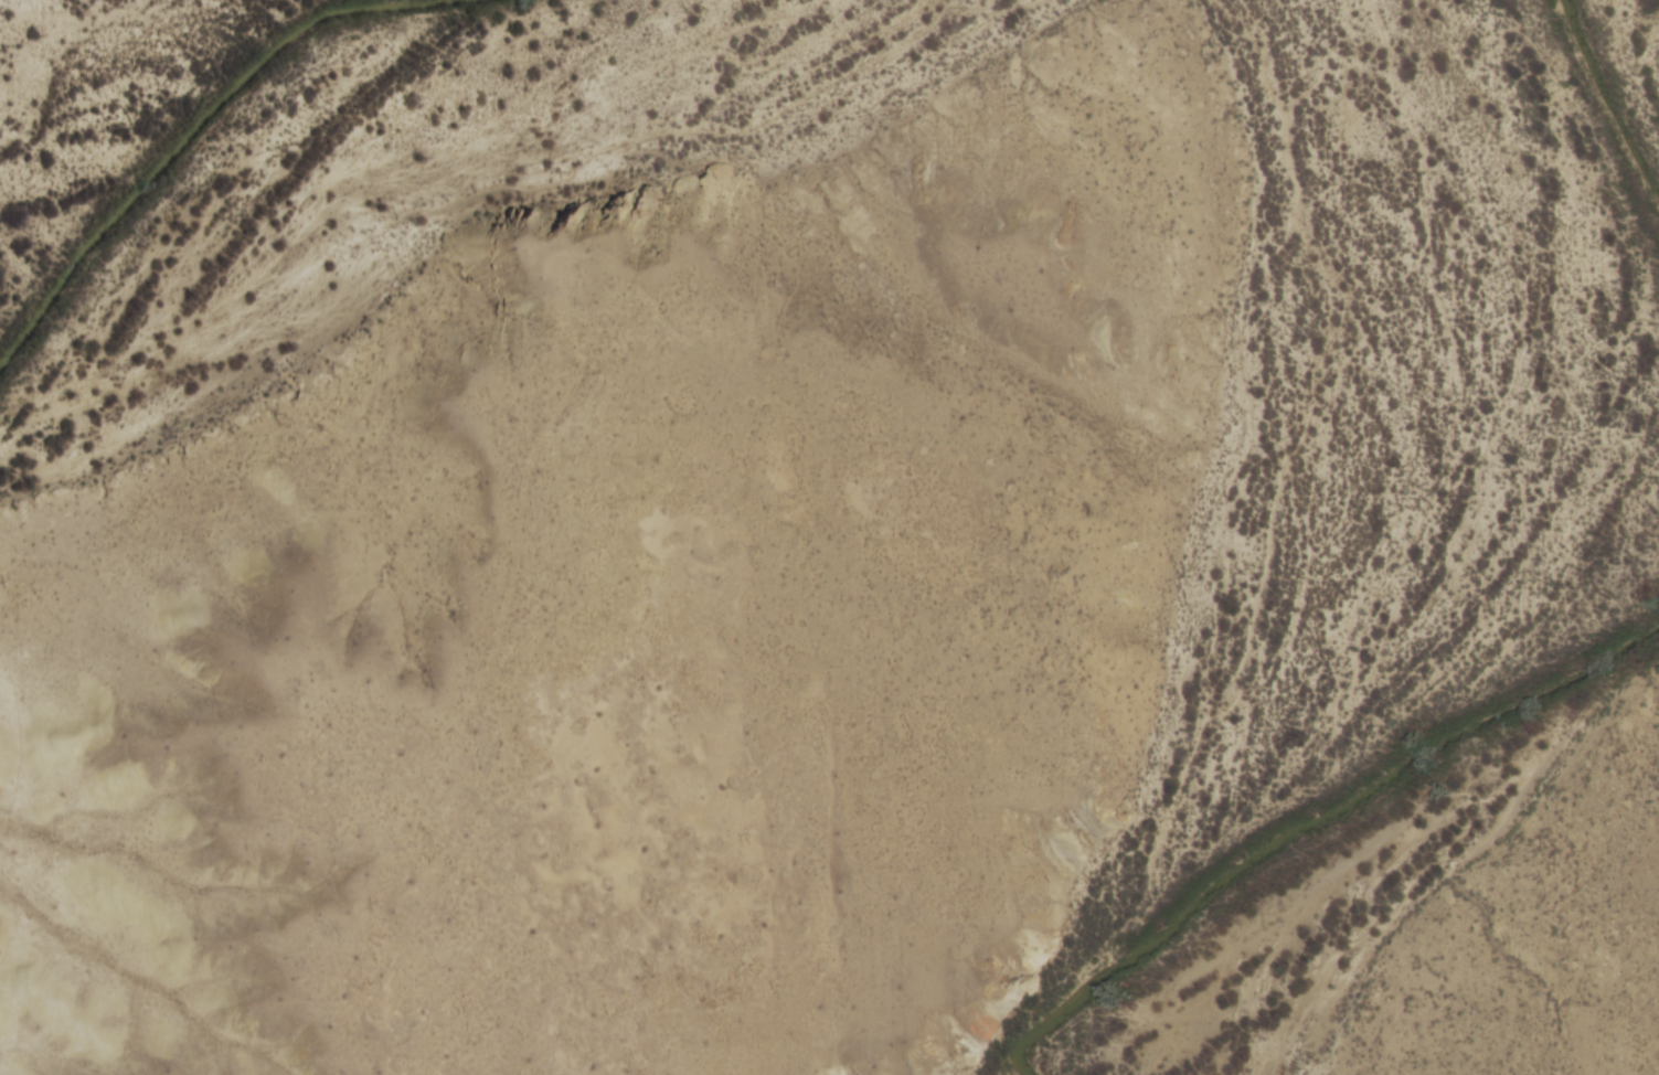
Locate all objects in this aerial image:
river: (1612, 103)
river: (217, 106)
river: (1331, 843)

